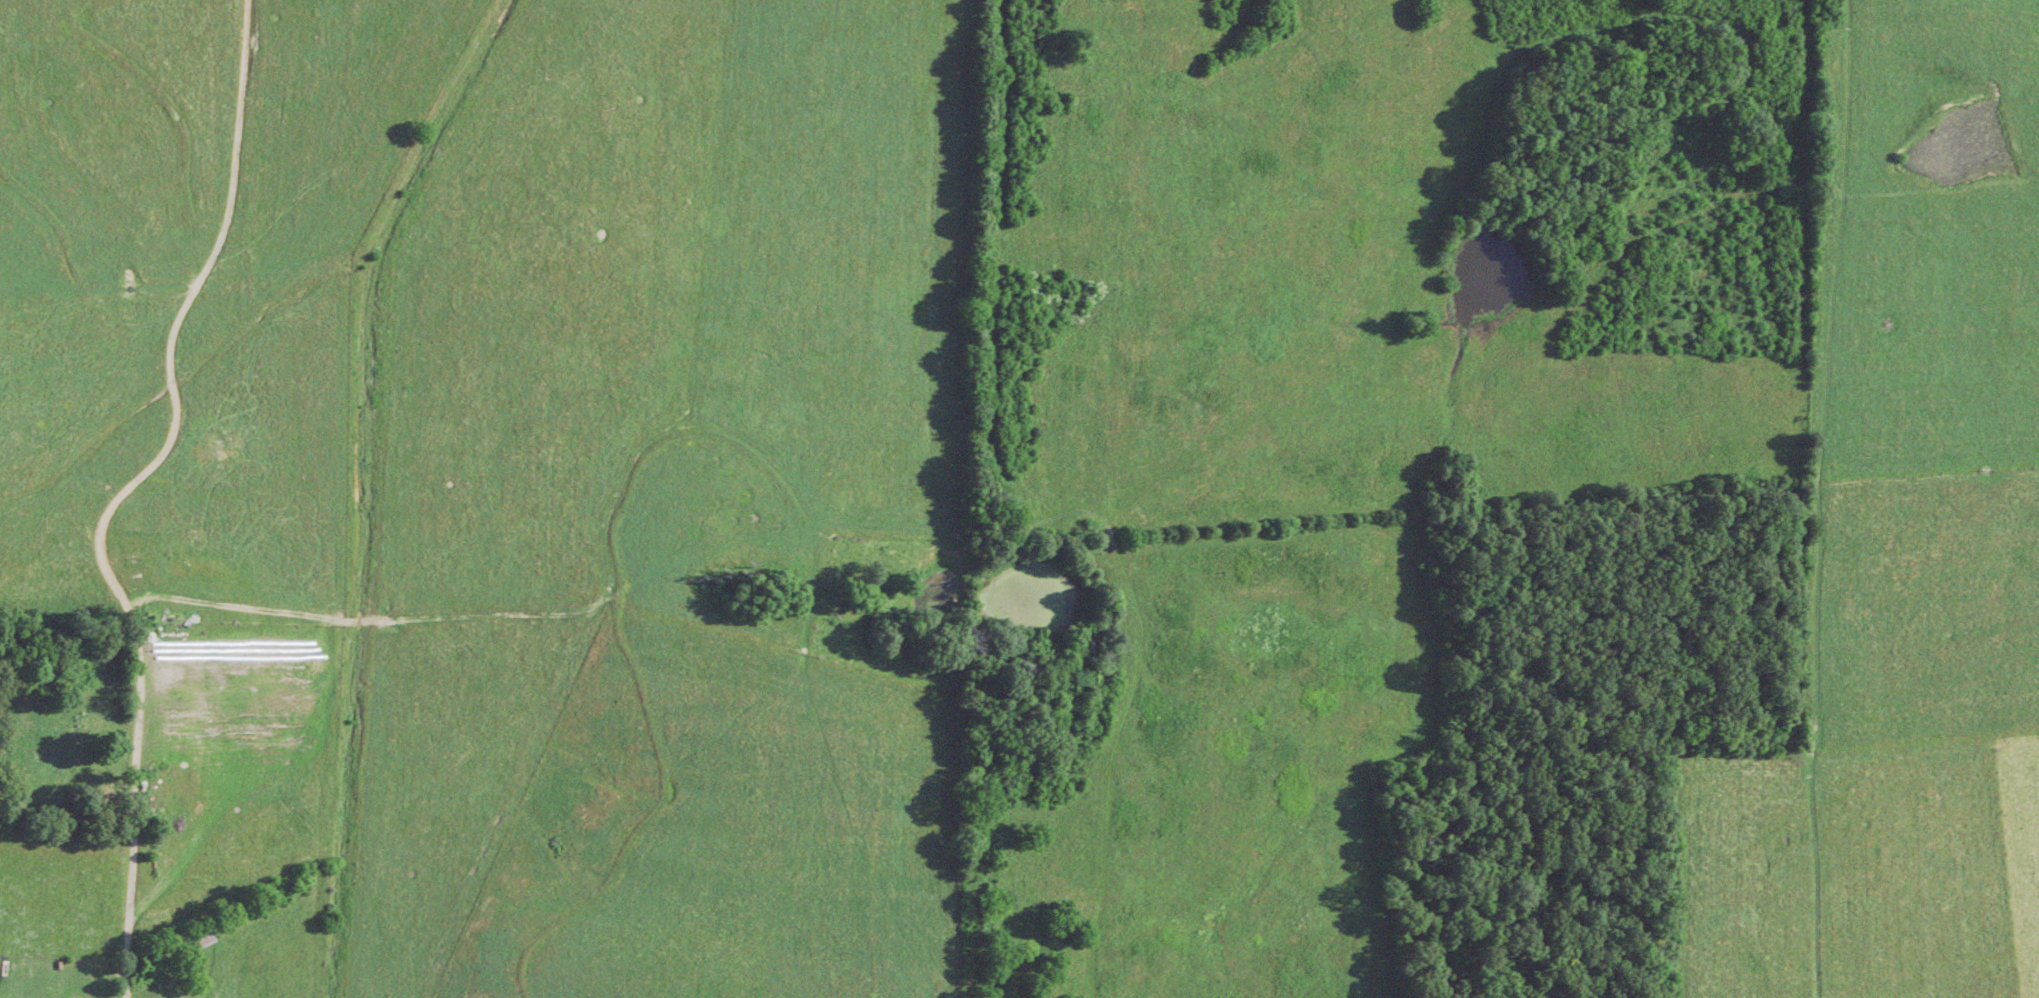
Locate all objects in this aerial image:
park: (63, 824)
building: (203, 942)

